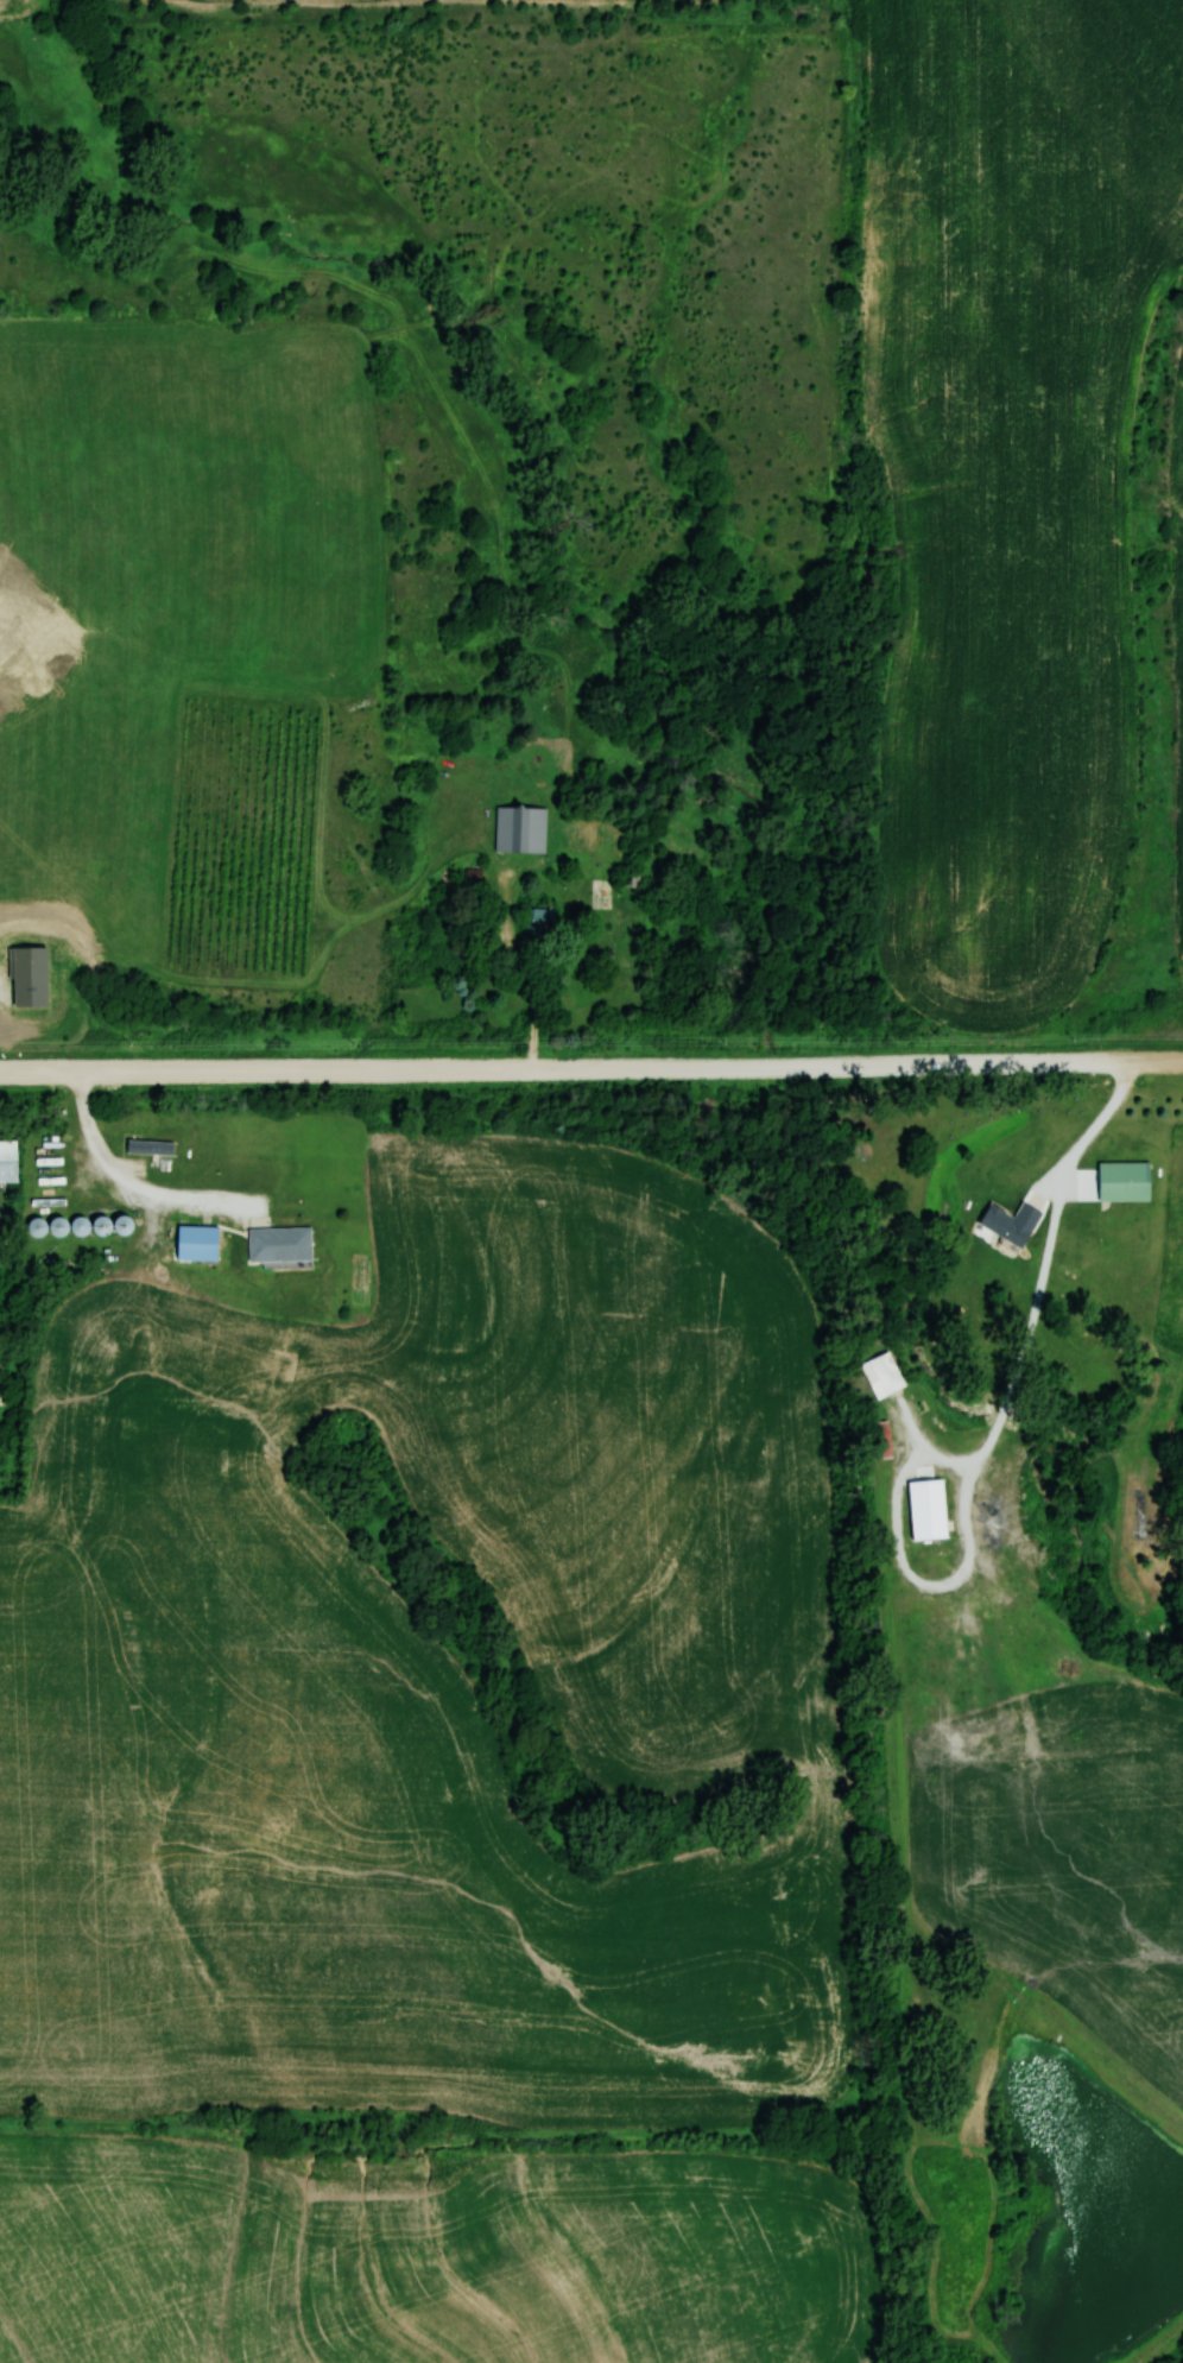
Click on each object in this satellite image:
building: (519, 828)
building: (538, 922)
road: (590, 1068)
building: (918, 1108)
building: (6, 1161)
building: (1120, 1181)
building: (1007, 1222)
building: (194, 1243)
building: (277, 1244)
building: (880, 1373)
building: (878, 1438)
building: (924, 1506)

